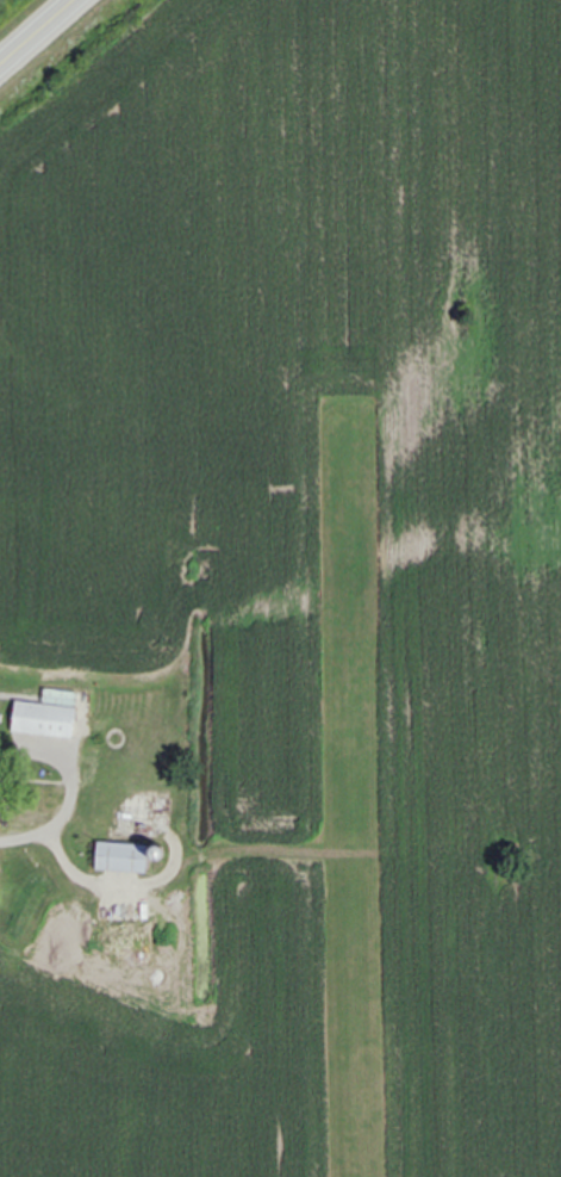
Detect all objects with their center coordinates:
road: (38, 35)
building: (45, 718)
building: (0, 772)
airport runway: (348, 789)
road: (54, 832)
building: (123, 855)

